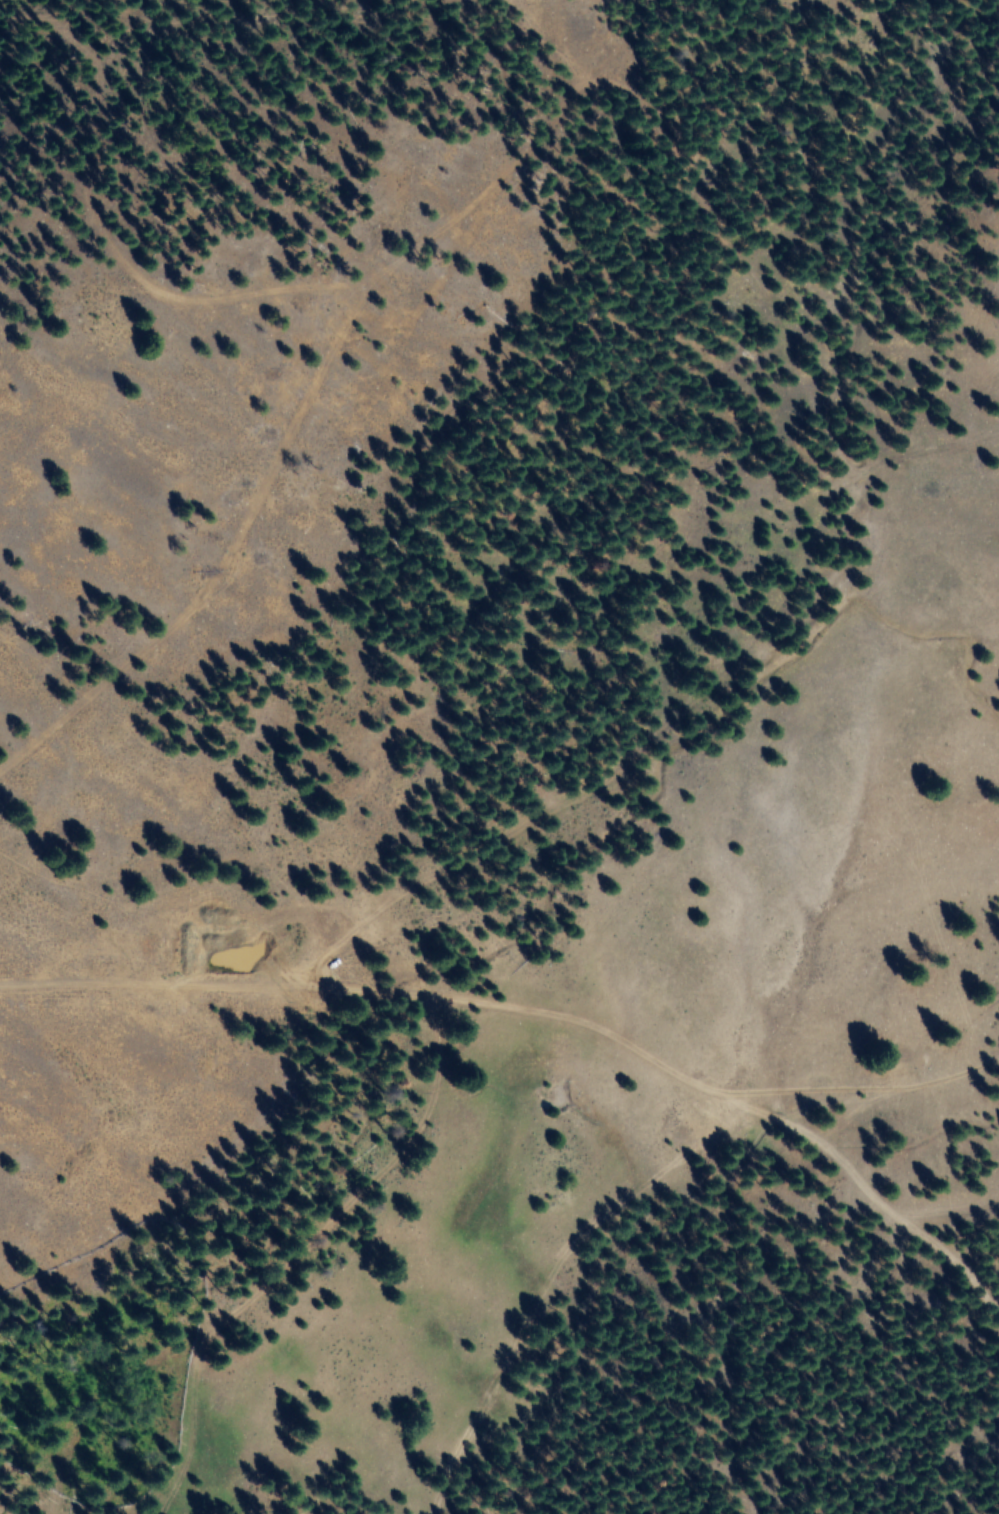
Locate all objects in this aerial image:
road: (579, 1053)

